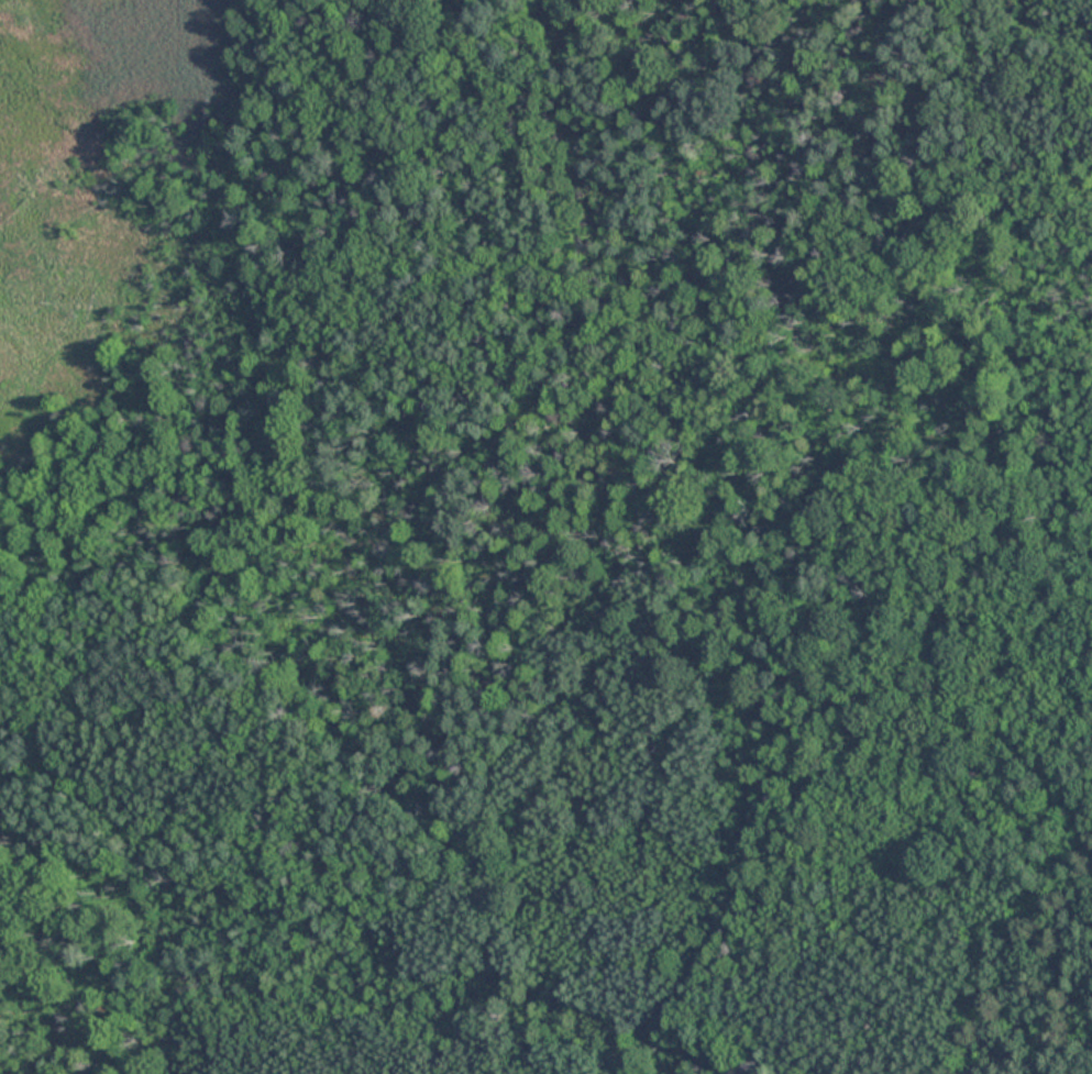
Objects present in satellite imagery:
park: (545, 536)

